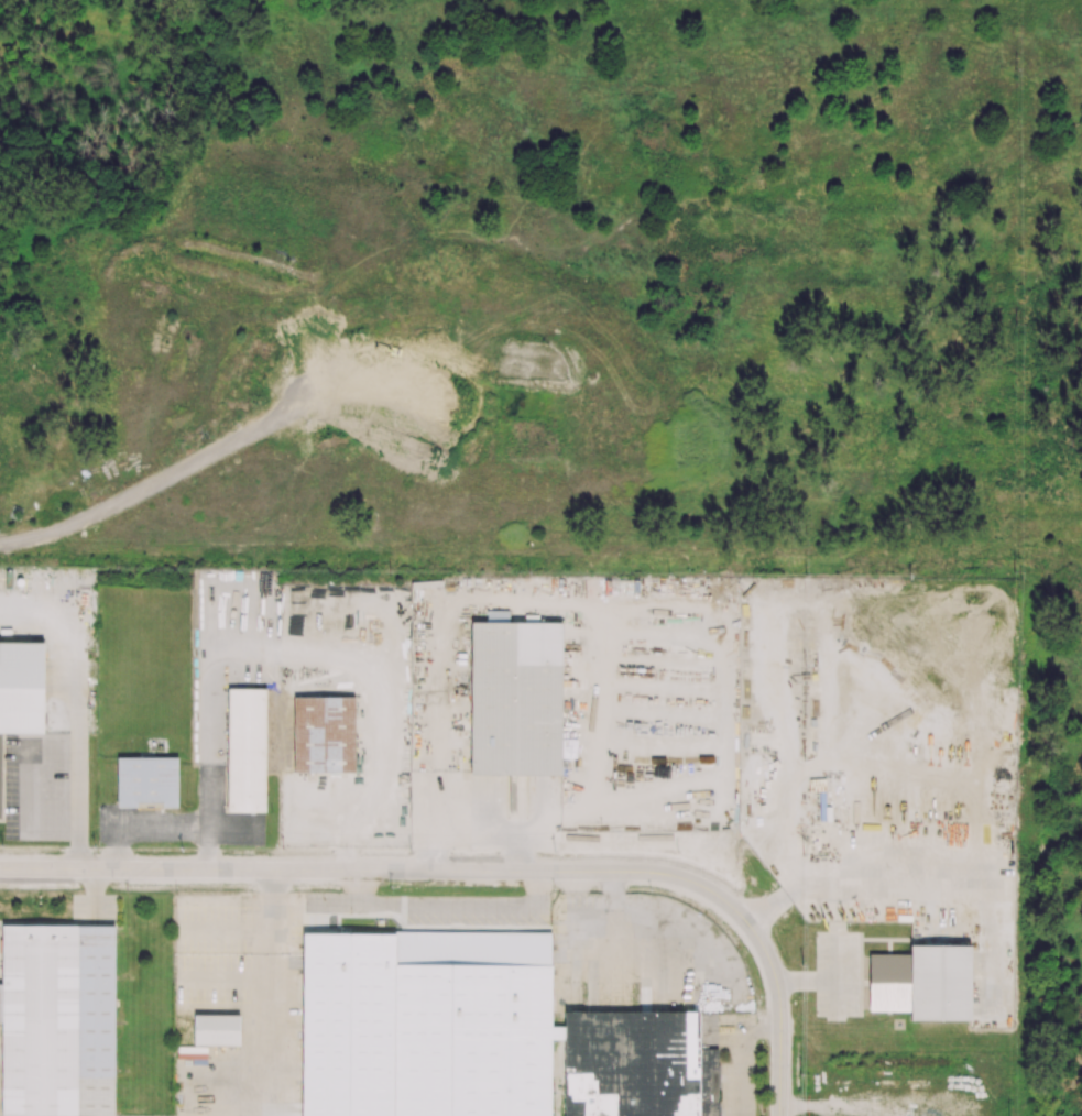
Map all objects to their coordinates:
road: (221, 447)
road: (306, 656)
building: (21, 692)
building: (516, 699)
road: (77, 709)
building: (325, 735)
building: (247, 751)
building: (147, 783)
parking lot: (36, 787)
road: (31, 788)
road: (379, 871)
road: (94, 895)
parking lot: (95, 910)
road: (450, 911)
road: (614, 919)
road: (839, 959)
parking lot: (840, 974)
road: (808, 980)
building: (923, 983)
road: (276, 993)
road: (838, 997)
road: (780, 1013)
building: (58, 1021)
building: (426, 1024)
building: (638, 1065)

